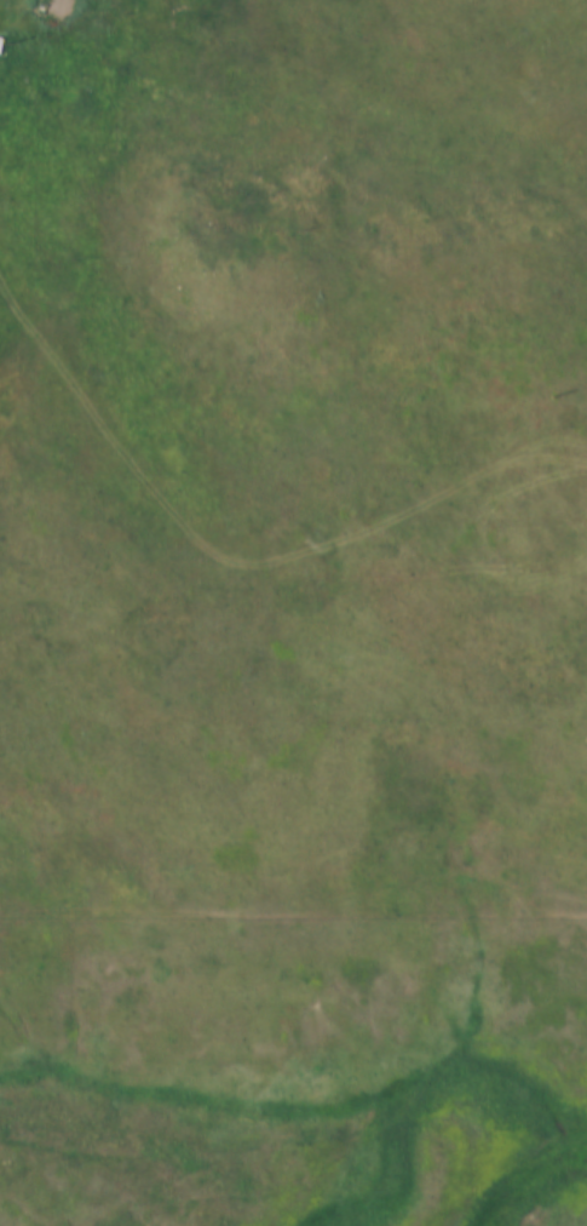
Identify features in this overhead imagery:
building: (0, 21)
road: (297, 1182)

